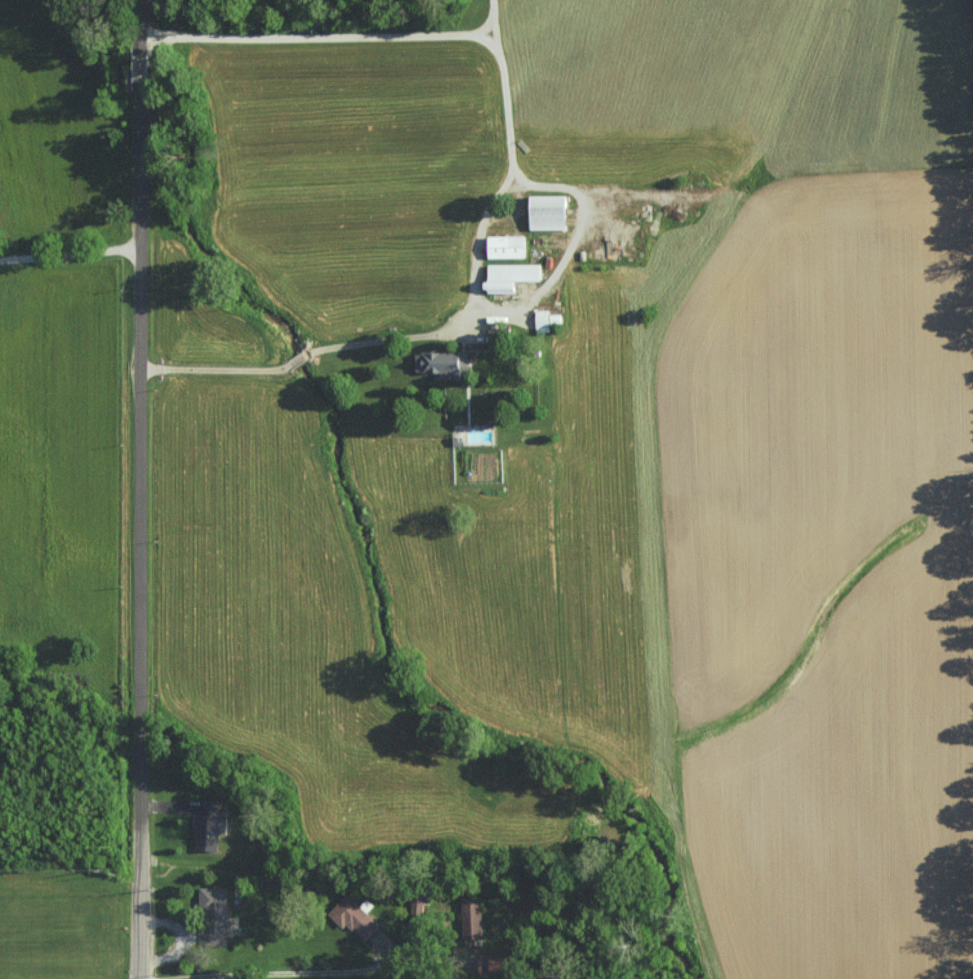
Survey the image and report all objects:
road: (496, 21)
road: (138, 26)
road: (139, 68)
road: (507, 91)
building: (549, 212)
building: (508, 246)
road: (67, 256)
building: (511, 276)
building: (543, 320)
road: (300, 361)
building: (443, 363)
road: (213, 373)
road: (137, 421)
building: (210, 826)
road: (138, 870)
building: (417, 909)
building: (215, 915)
building: (355, 917)
building: (473, 919)
building: (497, 964)
road: (277, 973)

